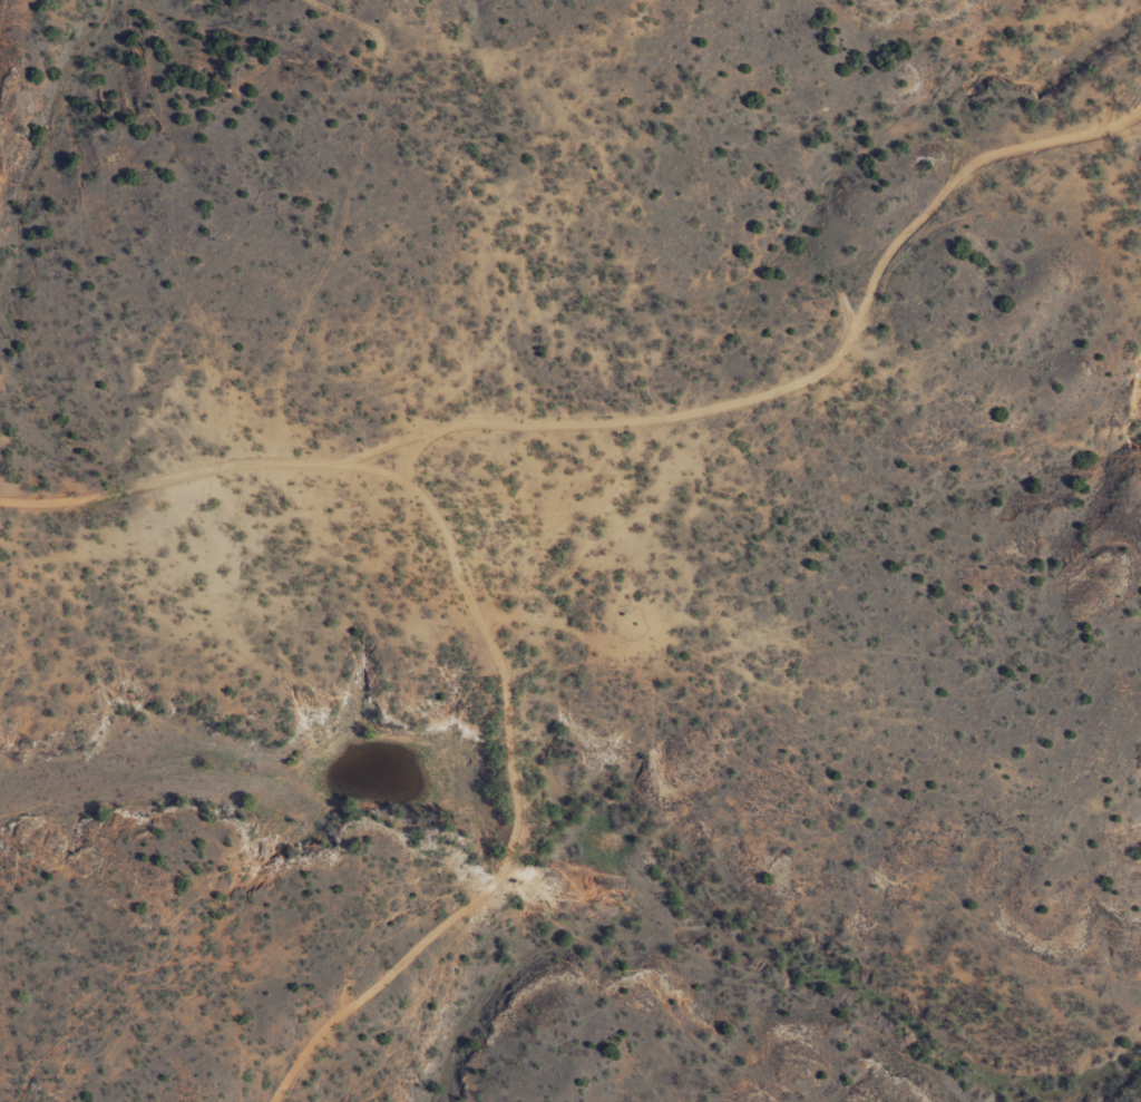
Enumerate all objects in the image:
road: (633, 413)

